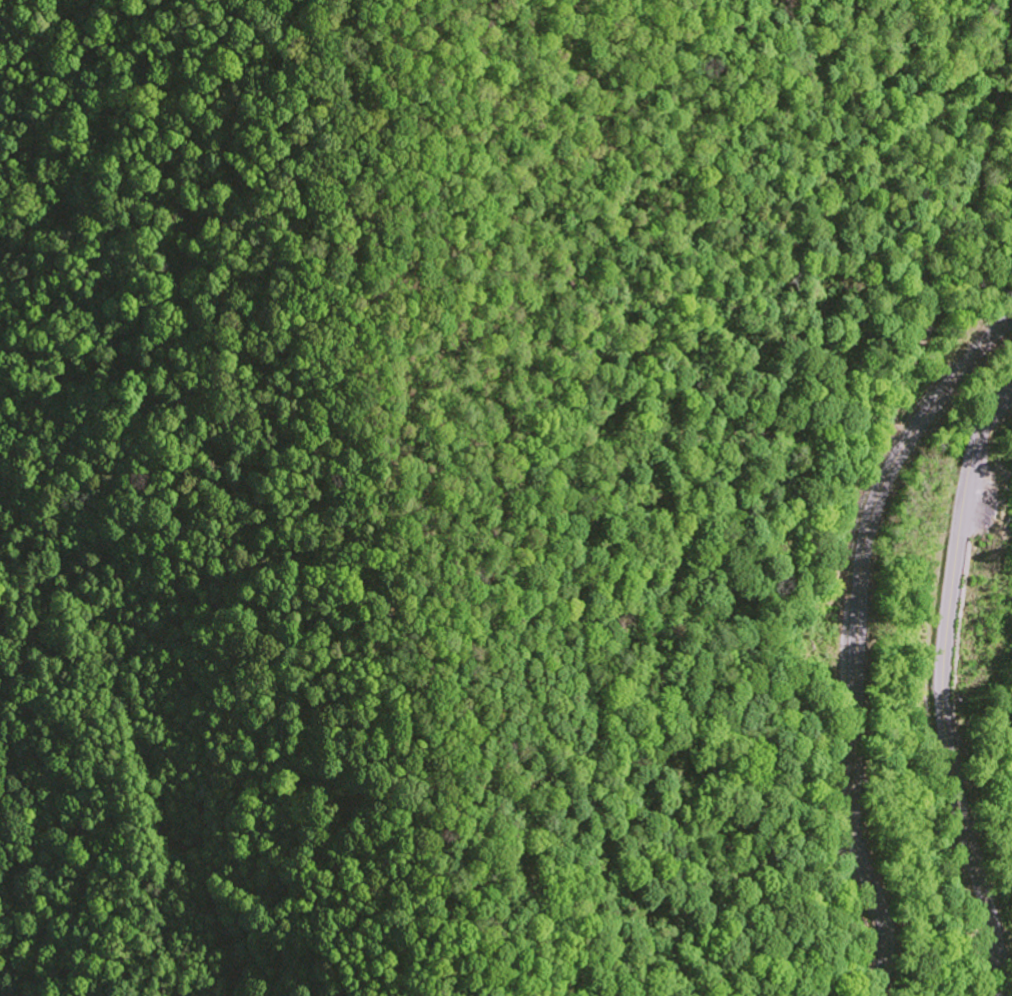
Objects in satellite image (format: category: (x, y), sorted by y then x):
road: (984, 164)
road: (856, 632)
road: (941, 689)

